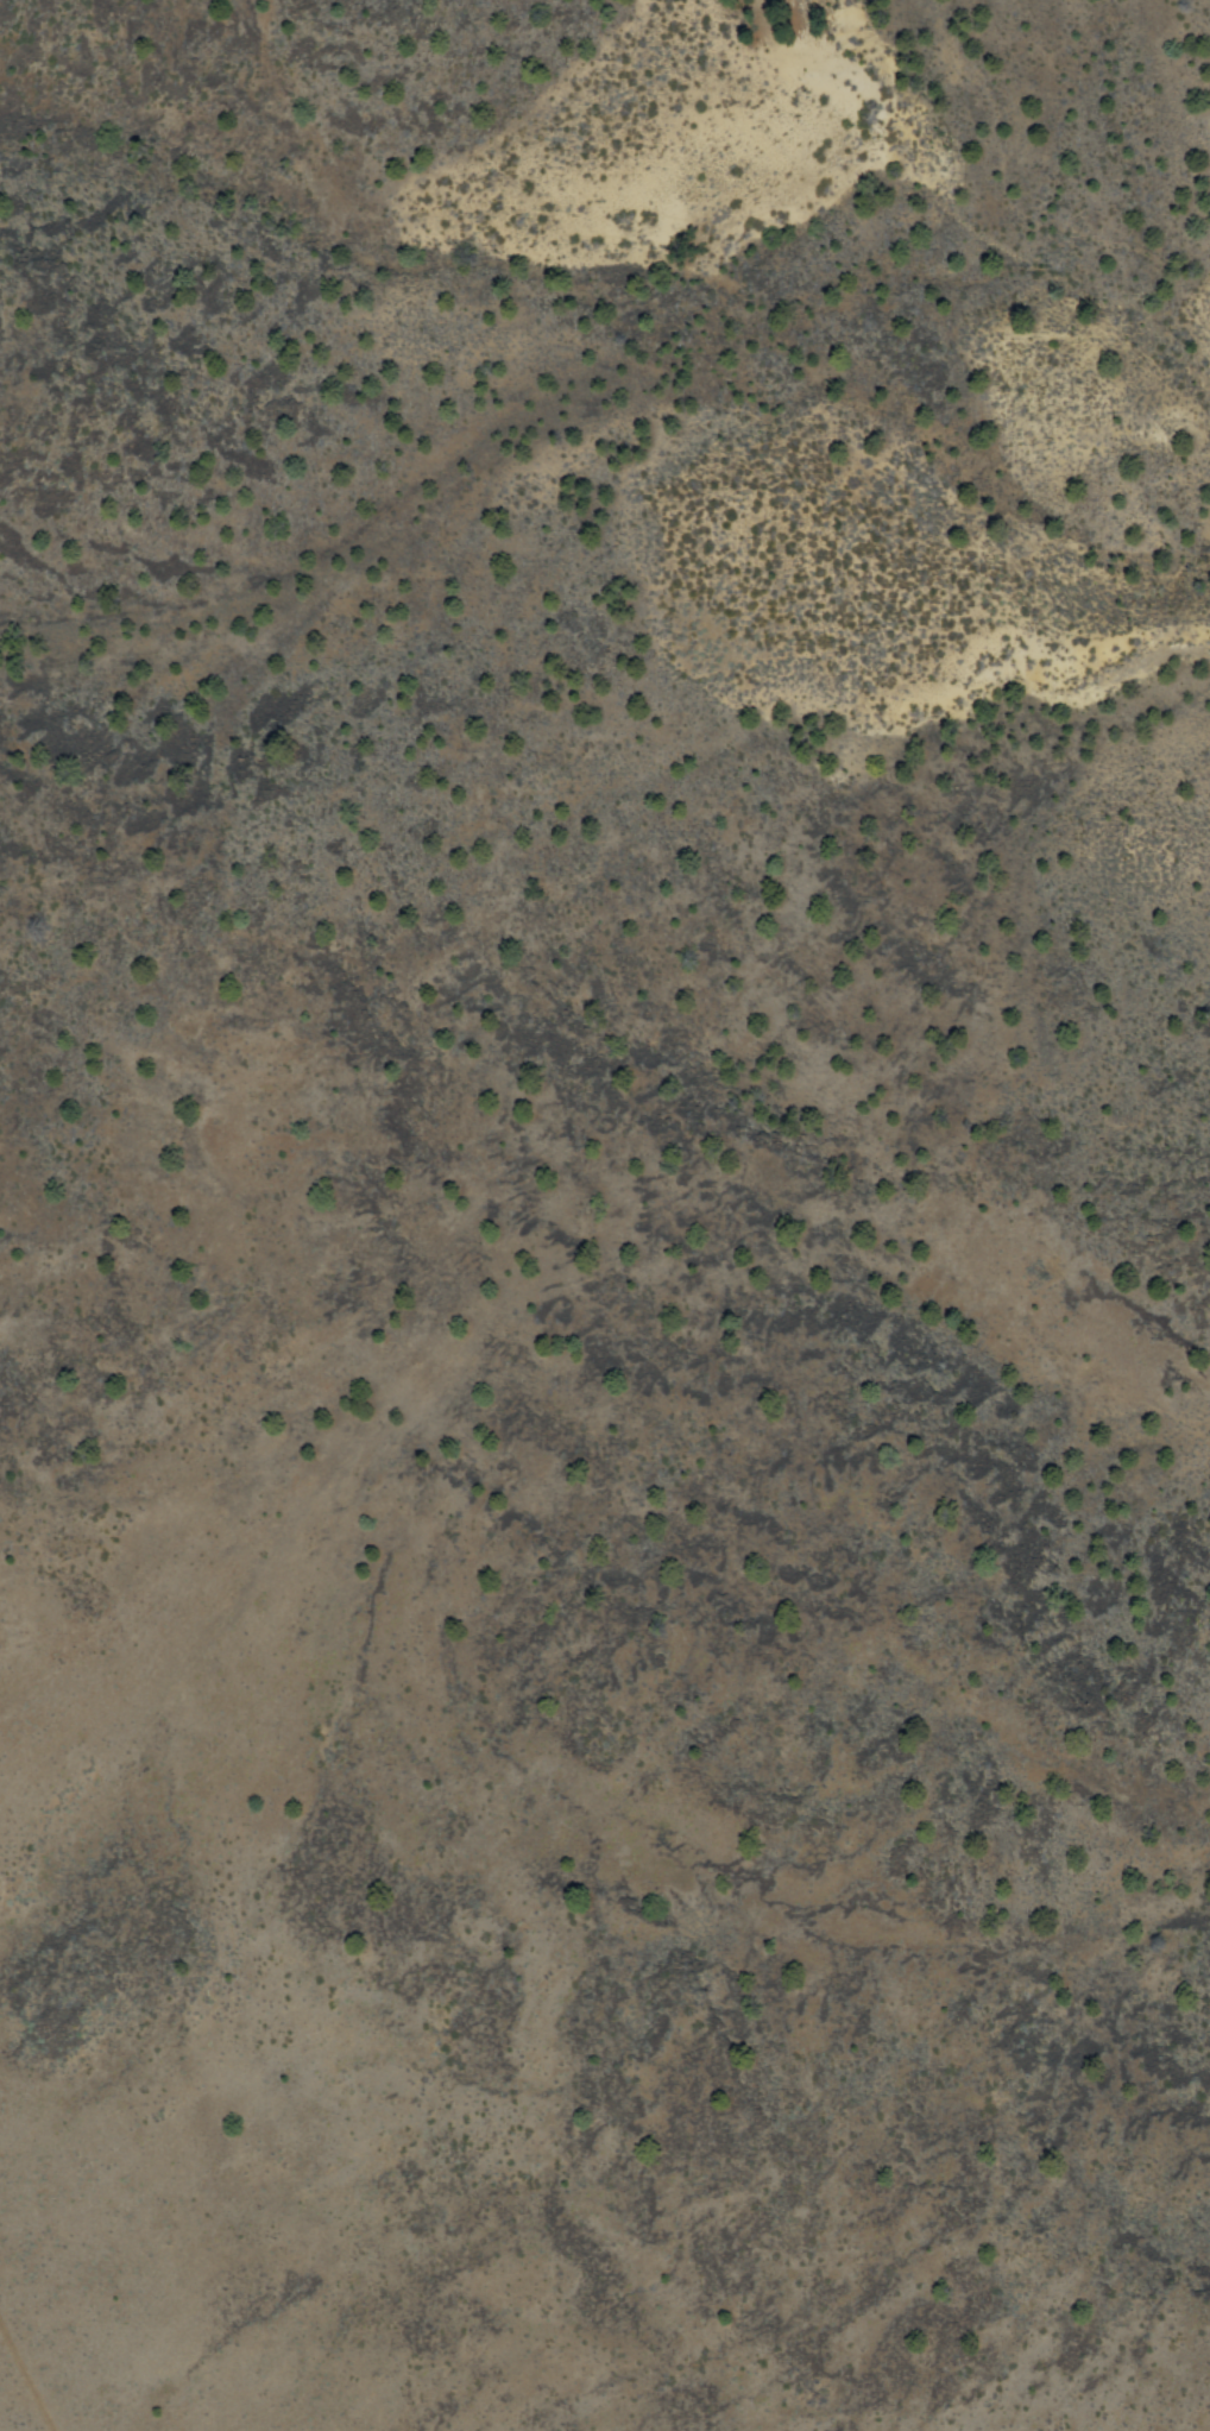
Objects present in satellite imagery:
road: (29, 2375)

